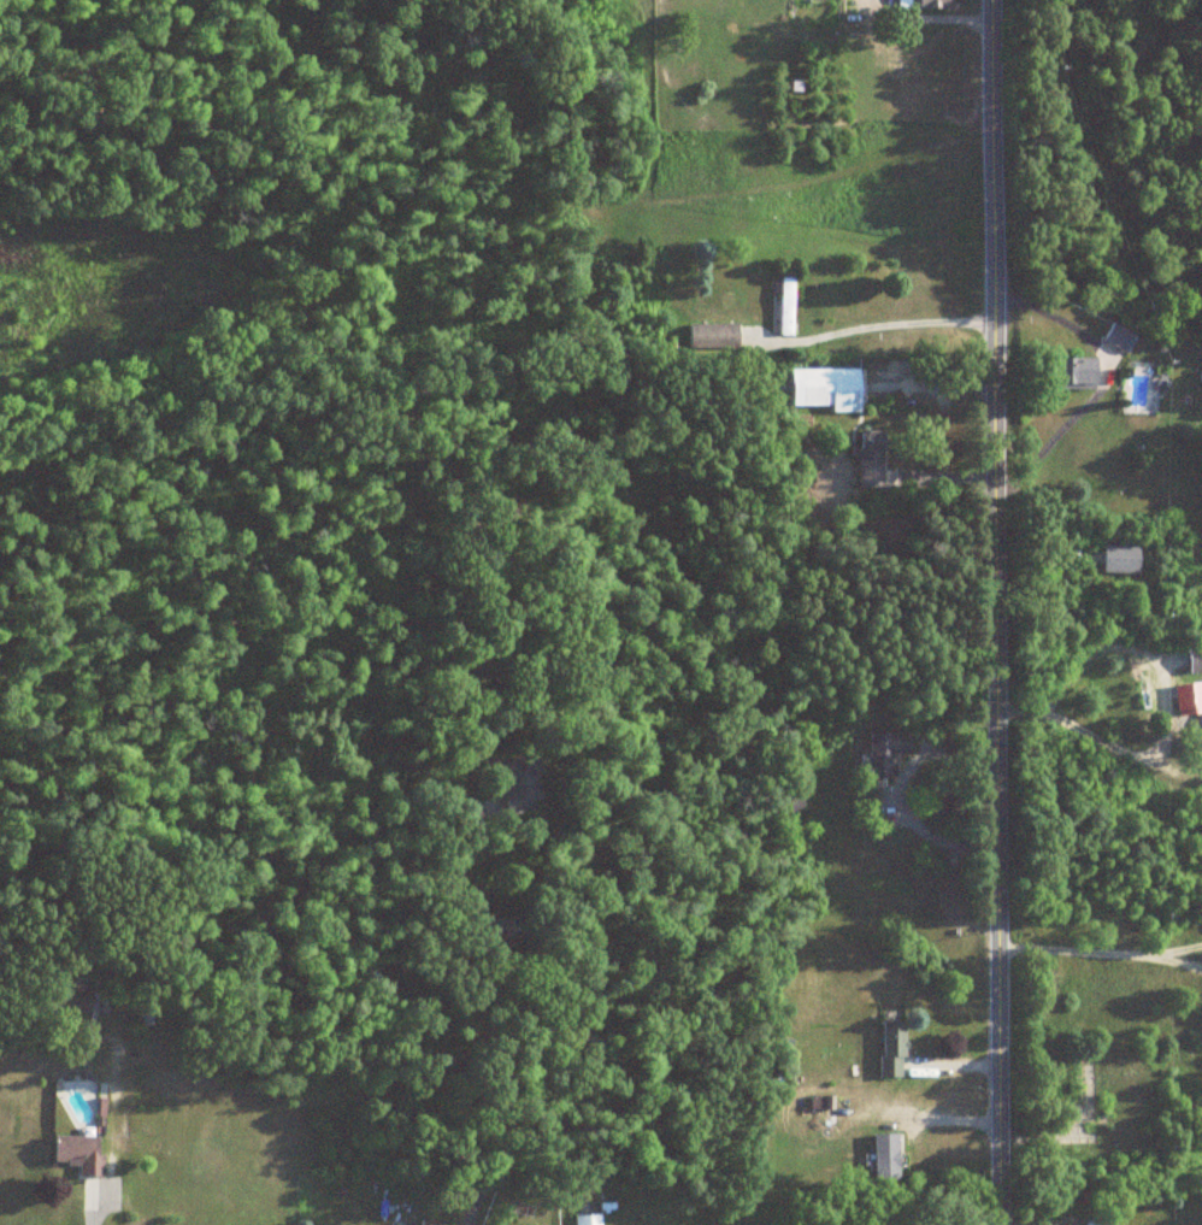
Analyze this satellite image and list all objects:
building: (931, 4)
building: (784, 306)
road: (889, 323)
building: (709, 335)
building: (1115, 338)
building: (1070, 372)
building: (821, 389)
building: (867, 458)
building: (1116, 559)
road: (996, 612)
building: (1192, 658)
road: (1166, 681)
building: (882, 754)
building: (514, 783)
road: (920, 828)
road: (1101, 950)
building: (70, 1001)
road: (491, 1038)
building: (886, 1050)
building: (1085, 1089)
building: (75, 1155)
building: (882, 1159)
road: (88, 1209)
building: (585, 1220)
building: (1090, 1220)
building: (426, 1223)

